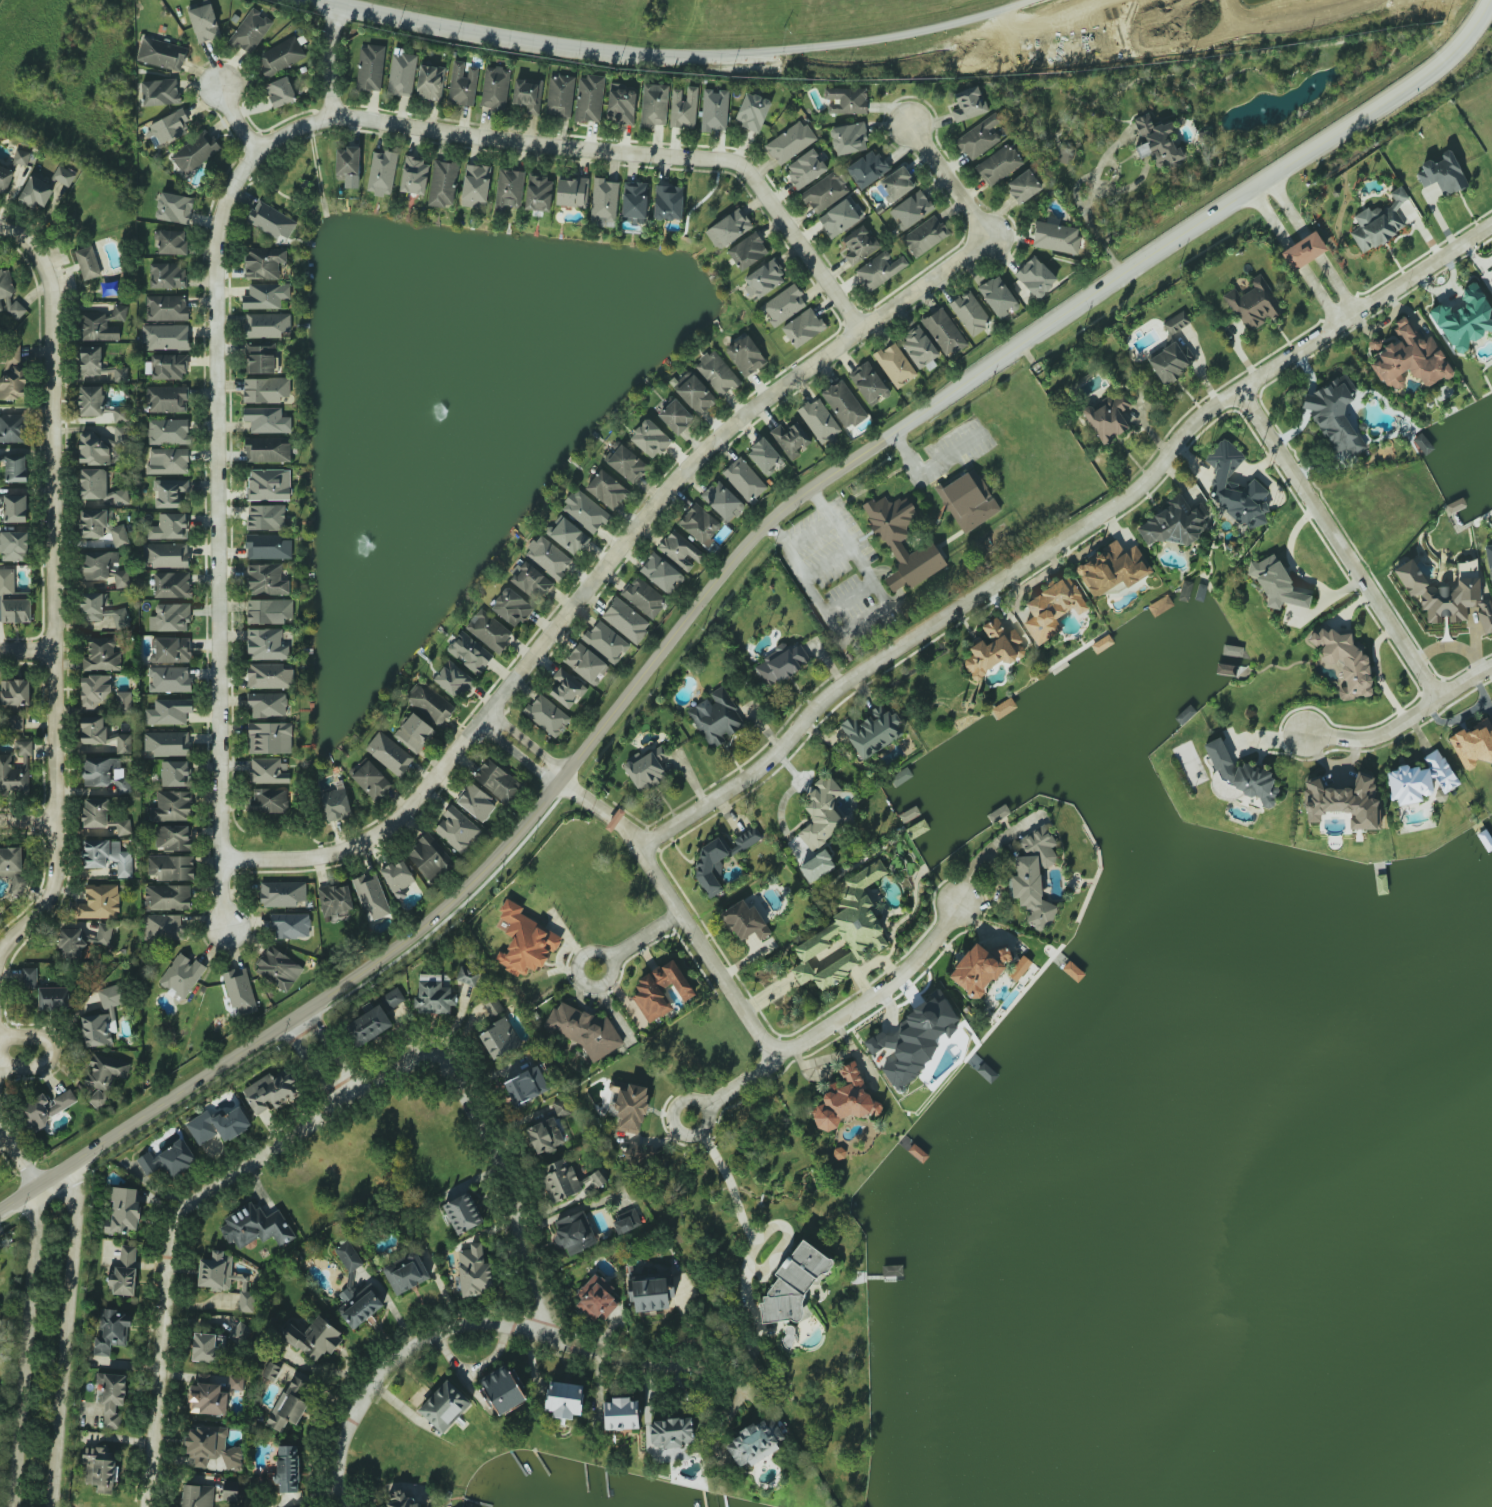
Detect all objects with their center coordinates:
building: (204, 23)
building: (251, 31)
building: (161, 53)
building: (280, 56)
road: (713, 59)
road: (328, 65)
building: (370, 67)
building: (402, 73)
building: (430, 82)
building: (462, 83)
building: (495, 87)
building: (159, 92)
building: (280, 92)
building: (528, 94)
building: (560, 95)
building: (589, 98)
building: (846, 100)
building: (968, 104)
building: (654, 105)
building: (621, 106)
building: (683, 107)
building: (714, 109)
building: (752, 112)
road: (239, 122)
building: (168, 128)
building: (979, 137)
building: (849, 138)
building: (1156, 141)
building: (790, 142)
building: (195, 152)
road: (592, 156)
building: (348, 164)
building: (998, 164)
building: (806, 168)
building: (867, 168)
building: (12, 171)
building: (382, 172)
building: (1442, 173)
building: (64, 175)
building: (414, 175)
road: (951, 182)
building: (443, 183)
building: (898, 183)
building: (476, 185)
building: (1023, 186)
building: (509, 189)
building: (40, 191)
building: (538, 192)
building: (572, 192)
building: (824, 192)
building: (635, 200)
building: (604, 201)
building: (668, 202)
building: (174, 207)
road: (1088, 209)
building: (911, 210)
building: (841, 216)
road: (1439, 218)
building: (271, 220)
building: (1379, 223)
building: (729, 228)
building: (925, 236)
building: (1056, 237)
building: (172, 242)
building: (859, 244)
road: (1312, 246)
road: (33, 248)
building: (748, 251)
building: (1303, 251)
road: (1291, 260)
building: (87, 263)
building: (263, 263)
building: (1491, 267)
building: (879, 270)
building: (167, 275)
building: (1036, 277)
building: (763, 279)
building: (9, 295)
building: (265, 296)
building: (998, 296)
building: (1255, 304)
building: (783, 305)
building: (166, 307)
building: (970, 313)
building: (1465, 319)
building: (1176, 322)
building: (101, 324)
building: (267, 325)
building: (803, 327)
building: (944, 332)
building: (165, 337)
building: (919, 349)
building: (745, 355)
building: (261, 358)
building: (1410, 359)
building: (1171, 361)
building: (97, 365)
building: (894, 365)
building: (168, 366)
building: (717, 373)
building: (13, 378)
building: (868, 383)
building: (266, 389)
building: (696, 394)
building: (166, 399)
building: (98, 404)
building: (844, 404)
building: (676, 416)
building: (1335, 416)
building: (1107, 417)
building: (267, 420)
building: (819, 420)
building: (12, 427)
building: (169, 431)
building: (650, 438)
building: (791, 439)
building: (1423, 443)
building: (94, 449)
building: (267, 450)
building: (764, 456)
building: (167, 461)
building: (627, 463)
building: (15, 467)
building: (744, 479)
building: (269, 484)
building: (101, 488)
building: (1235, 488)
building: (606, 489)
building: (169, 492)
building: (968, 500)
building: (723, 501)
building: (15, 508)
building: (585, 511)
building: (265, 517)
building: (699, 524)
building: (1174, 524)
building: (101, 526)
building: (169, 526)
road: (1071, 534)
building: (569, 536)
road: (216, 537)
road: (1338, 543)
building: (14, 546)
building: (267, 547)
building: (894, 548)
building: (681, 551)
building: (165, 555)
building: (1488, 556)
building: (548, 557)
road: (605, 565)
building: (102, 568)
building: (1113, 568)
building: (661, 573)
building: (267, 579)
road: (722, 580)
building: (531, 581)
building: (1277, 583)
building: (172, 584)
building: (1184, 590)
road: (853, 594)
building: (644, 597)
building: (13, 599)
building: (1447, 601)
building: (1160, 605)
building: (511, 607)
building: (1052, 609)
building: (101, 610)
building: (269, 611)
building: (169, 617)
building: (625, 620)
road: (52, 630)
building: (489, 630)
building: (606, 642)
building: (1102, 643)
building: (267, 644)
road: (26, 649)
building: (171, 649)
building: (994, 649)
building: (470, 652)
building: (101, 654)
building: (1345, 659)
building: (586, 663)
building: (782, 665)
building: (270, 675)
building: (169, 679)
building: (453, 681)
building: (567, 688)
building: (96, 690)
building: (15, 692)
building: (123, 701)
building: (430, 703)
building: (267, 704)
building: (1003, 707)
building: (168, 711)
building: (547, 715)
building: (716, 717)
road: (1402, 720)
building: (16, 721)
building: (872, 731)
building: (414, 732)
building: (102, 737)
building: (270, 737)
building: (167, 743)
road: (526, 743)
building: (1473, 744)
building: (24, 747)
building: (389, 753)
building: (659, 753)
building: (269, 770)
building: (645, 771)
building: (106, 773)
building: (175, 773)
building: (13, 775)
building: (901, 776)
building: (1238, 777)
building: (496, 779)
building: (371, 780)
building: (1422, 780)
building: (269, 800)
building: (476, 802)
building: (1344, 802)
building: (335, 803)
building: (171, 806)
road: (606, 811)
building: (821, 812)
building: (102, 816)
road: (28, 821)
building: (457, 829)
building: (173, 837)
building: (107, 856)
building: (429, 857)
road: (983, 857)
building: (720, 858)
building: (816, 866)
building: (170, 867)
building: (12, 869)
building: (1033, 876)
building: (397, 878)
building: (282, 893)
building: (371, 896)
building: (167, 897)
building: (335, 900)
building: (99, 902)
building: (745, 921)
building: (291, 925)
building: (162, 926)
building: (844, 933)
road: (645, 936)
building: (525, 941)
road: (707, 954)
road: (608, 958)
building: (278, 968)
building: (1019, 968)
building: (979, 969)
building: (181, 975)
building: (467, 976)
building: (29, 977)
building: (660, 990)
building: (238, 994)
building: (433, 994)
building: (53, 998)
building: (392, 998)
road: (883, 1000)
building: (103, 1017)
building: (368, 1026)
building: (584, 1030)
building: (499, 1038)
building: (914, 1040)
road: (56, 1048)
road: (333, 1051)
road: (312, 1066)
building: (104, 1071)
road: (739, 1082)
building: (526, 1085)
building: (272, 1091)
building: (845, 1098)
building: (629, 1104)
road: (703, 1107)
building: (47, 1108)
building: (218, 1125)
building: (543, 1134)
road: (19, 1152)
building: (640, 1154)
building: (177, 1157)
building: (147, 1163)
building: (568, 1180)
road: (504, 1182)
road: (80, 1186)
building: (123, 1210)
building: (463, 1213)
road: (565, 1213)
road: (175, 1219)
building: (626, 1220)
road: (745, 1220)
building: (255, 1226)
building: (574, 1232)
building: (348, 1255)
building: (474, 1271)
building: (124, 1272)
building: (407, 1274)
building: (225, 1277)
building: (794, 1285)
building: (652, 1293)
building: (596, 1298)
building: (358, 1303)
road: (454, 1329)
building: (112, 1331)
building: (240, 1333)
road: (67, 1334)
building: (314, 1338)
building: (207, 1346)
road: (25, 1347)
road: (677, 1356)
building: (271, 1371)
building: (502, 1389)
road: (741, 1392)
building: (212, 1395)
building: (112, 1397)
building: (564, 1399)
building: (288, 1406)
building: (444, 1406)
building: (621, 1414)
building: (672, 1432)
building: (755, 1442)
building: (211, 1447)
building: (100, 1467)
building: (287, 1468)
building: (197, 1496)
building: (397, 1500)

